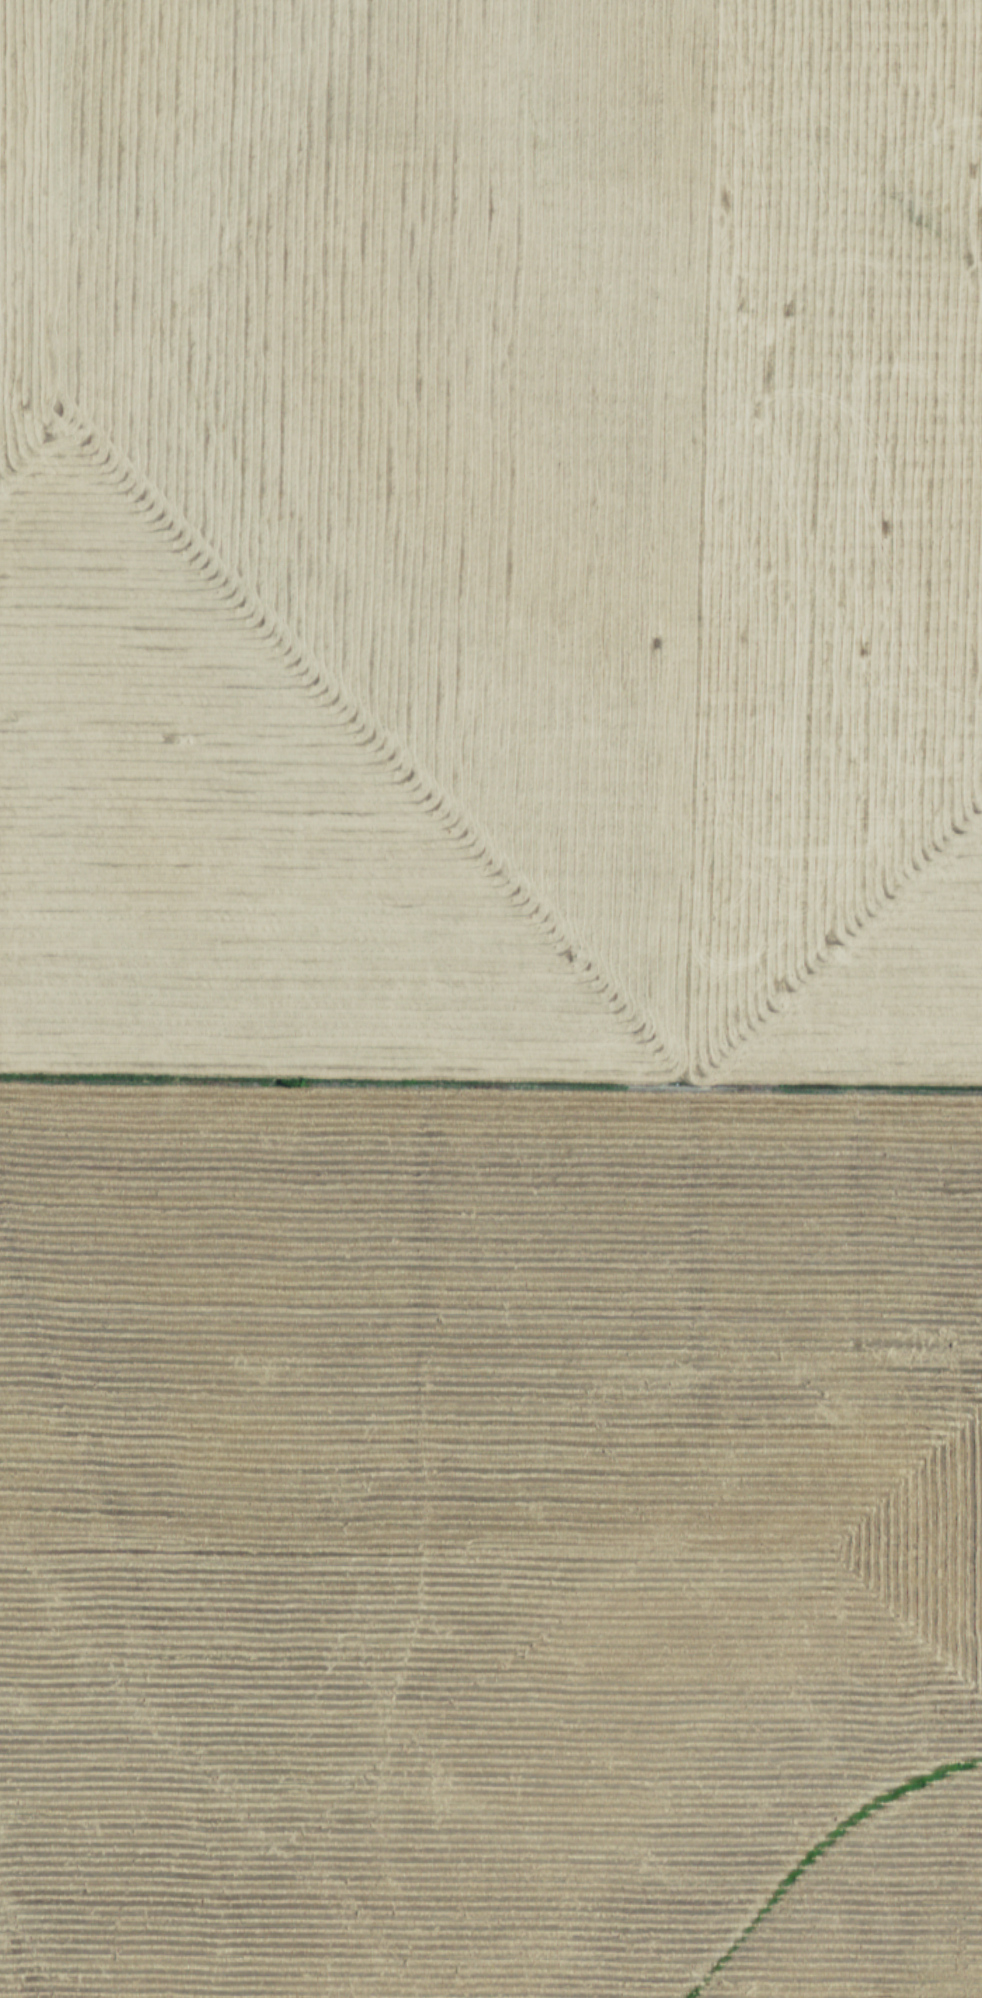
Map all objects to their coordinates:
crop: (491, 999)

